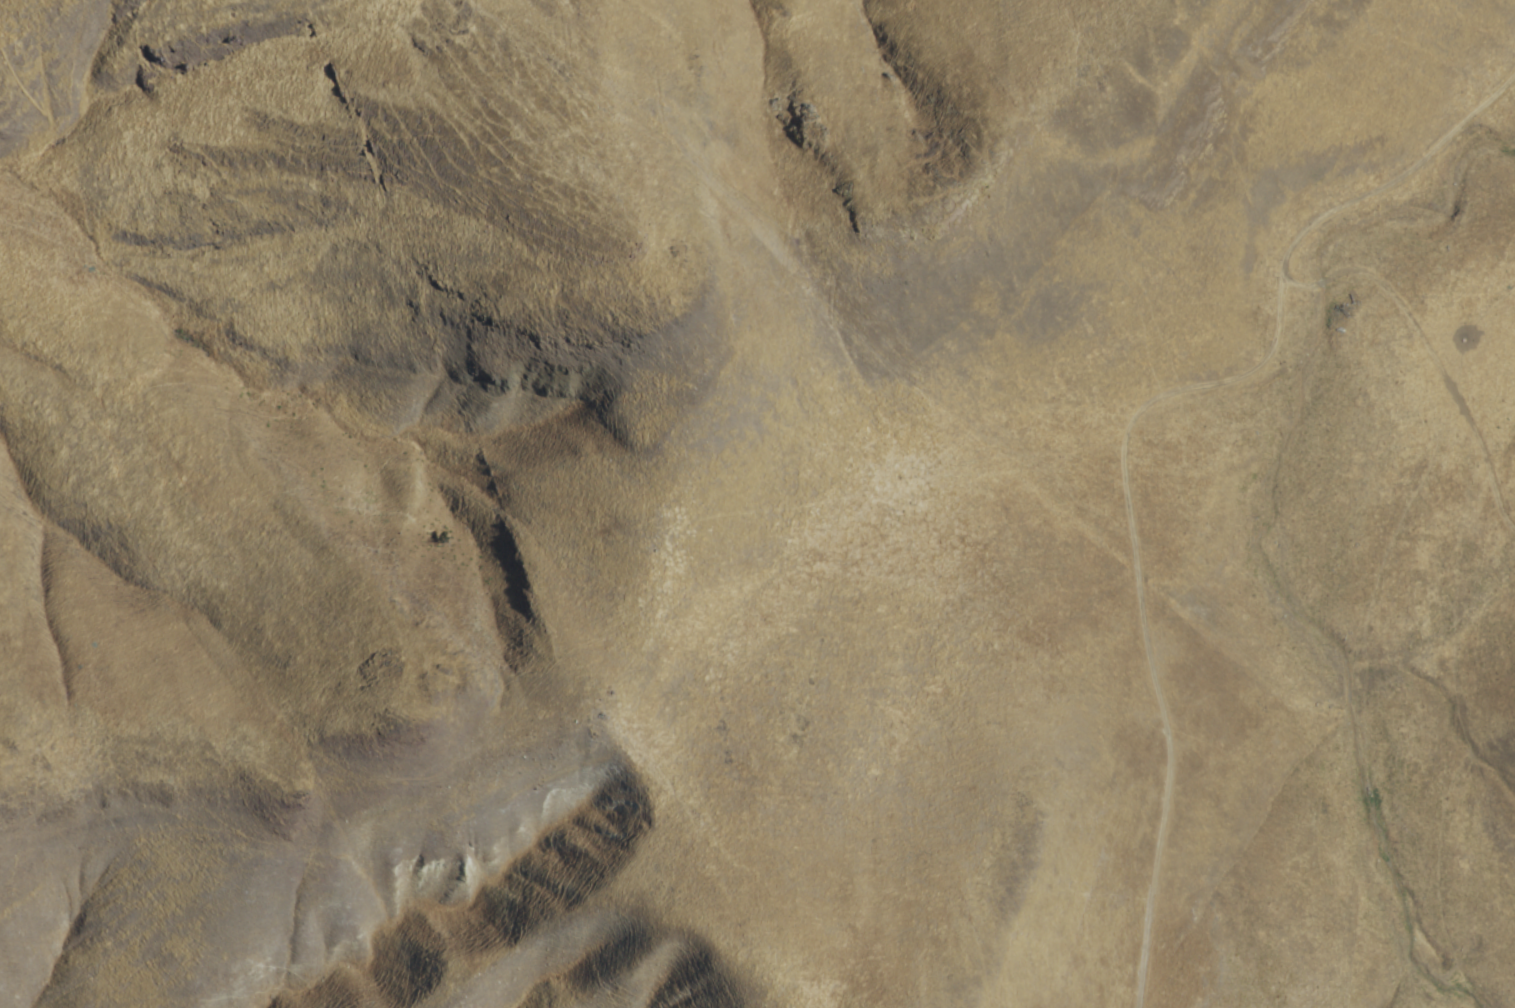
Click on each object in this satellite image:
road: (1256, 374)

